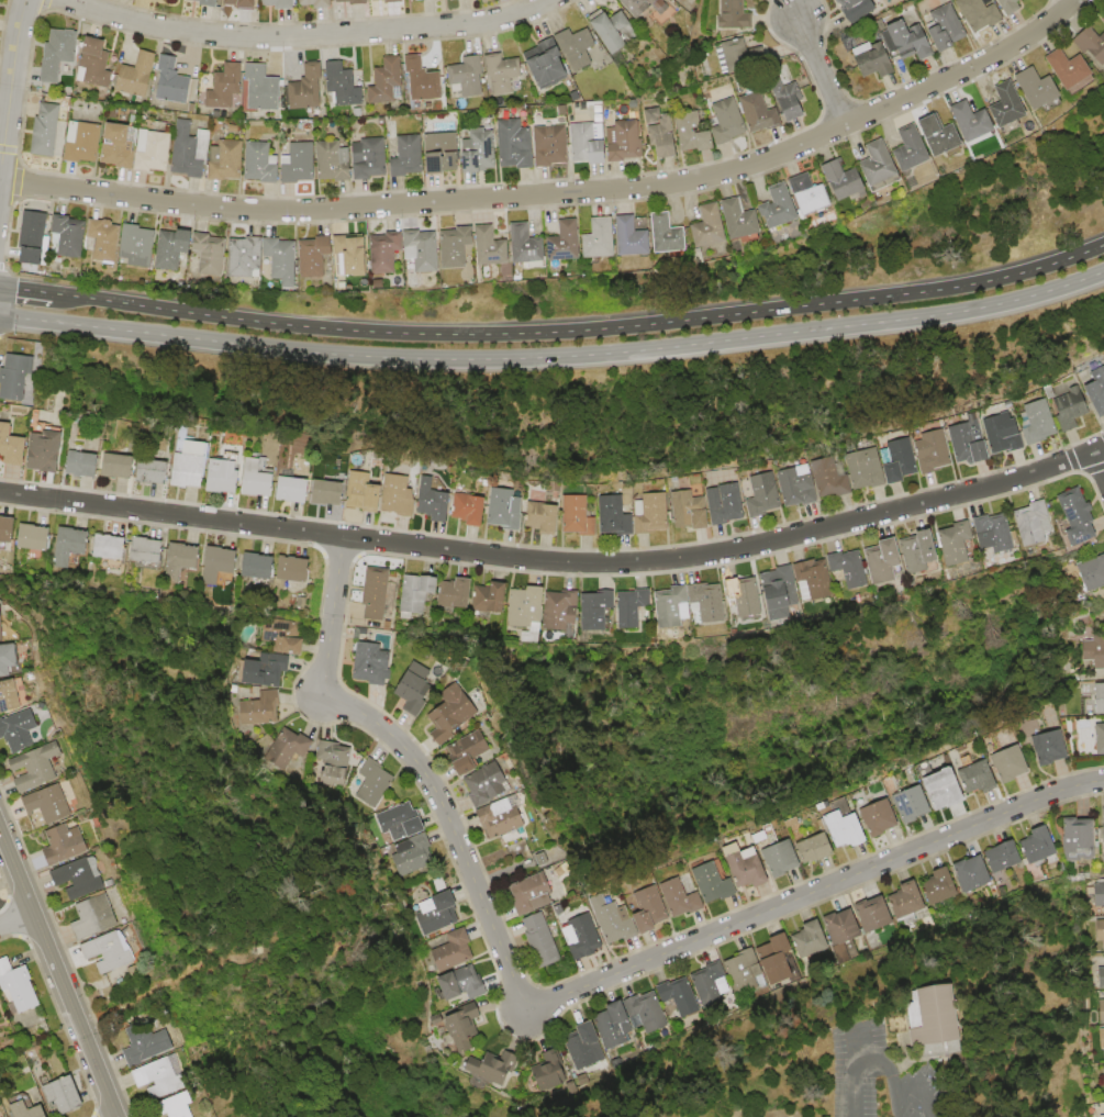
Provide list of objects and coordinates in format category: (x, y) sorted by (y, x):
building: (169, 0)
building: (375, 0)
building: (411, 0)
building: (204, 1)
building: (392, 1)
building: (353, 2)
building: (636, 3)
building: (243, 4)
building: (279, 4)
building: (317, 4)
building: (1011, 5)
building: (857, 9)
building: (980, 14)
building: (736, 15)
building: (947, 29)
building: (614, 31)
road: (311, 36)
building: (908, 40)
building: (1095, 43)
building: (576, 47)
building: (57, 53)
building: (736, 56)
building: (94, 64)
building: (874, 65)
building: (549, 68)
building: (1075, 69)
building: (501, 72)
road: (823, 72)
building: (136, 76)
building: (466, 77)
building: (422, 80)
building: (172, 81)
building: (387, 82)
building: (224, 87)
building: (341, 87)
building: (261, 88)
building: (304, 88)
building: (1042, 88)
road: (12, 94)
building: (792, 100)
building: (1013, 105)
building: (761, 113)
building: (728, 122)
building: (979, 122)
building: (688, 129)
building: (45, 130)
building: (661, 133)
building: (946, 135)
building: (624, 139)
building: (82, 142)
building: (588, 143)
building: (514, 144)
building: (549, 145)
building: (119, 146)
building: (153, 149)
building: (916, 149)
building: (479, 152)
building: (186, 153)
building: (441, 153)
building: (408, 156)
building: (369, 158)
building: (225, 159)
building: (333, 161)
building: (259, 163)
building: (298, 163)
building: (884, 166)
building: (848, 180)
road: (560, 194)
building: (815, 194)
building: (784, 208)
building: (746, 222)
building: (712, 227)
building: (670, 234)
building: (69, 235)
building: (635, 238)
building: (603, 239)
building: (32, 242)
building: (567, 242)
building: (102, 243)
building: (527, 244)
building: (137, 246)
building: (458, 247)
building: (493, 248)
building: (174, 249)
building: (424, 250)
building: (388, 252)
building: (210, 254)
building: (316, 256)
building: (352, 257)
building: (247, 258)
building: (281, 261)
road: (25, 289)
road: (580, 329)
road: (156, 334)
road: (712, 340)
building: (18, 378)
building: (1095, 392)
building: (1070, 409)
building: (1037, 422)
building: (1003, 433)
building: (969, 444)
building: (12, 447)
building: (933, 450)
building: (46, 453)
building: (900, 460)
road: (1100, 460)
building: (85, 466)
building: (119, 467)
building: (191, 467)
building: (867, 468)
building: (153, 472)
building: (224, 477)
building: (829, 478)
building: (258, 479)
building: (798, 485)
building: (293, 490)
building: (364, 492)
building: (328, 494)
building: (763, 494)
building: (398, 495)
building: (434, 502)
building: (725, 504)
building: (469, 510)
building: (506, 510)
building: (689, 511)
building: (651, 513)
building: (578, 515)
building: (614, 515)
building: (1079, 515)
building: (543, 518)
building: (1037, 522)
building: (7, 532)
building: (33, 537)
building: (999, 538)
building: (959, 543)
building: (69, 546)
building: (110, 547)
building: (146, 549)
building: (923, 552)
building: (181, 561)
building: (890, 561)
road: (557, 562)
building: (258, 565)
building: (220, 566)
building: (294, 568)
building: (850, 570)
building: (1094, 571)
building: (815, 579)
building: (376, 592)
building: (417, 592)
building: (459, 593)
building: (784, 593)
building: (497, 597)
building: (745, 600)
building: (706, 602)
building: (527, 606)
building: (673, 606)
building: (596, 608)
building: (562, 611)
building: (636, 611)
building: (2, 624)
building: (282, 634)
building: (1095, 649)
building: (10, 658)
building: (372, 662)
building: (264, 669)
building: (414, 691)
building: (13, 694)
building: (1100, 697)
building: (257, 708)
building: (453, 713)
building: (20, 729)
building: (1100, 737)
building: (1050, 747)
building: (286, 749)
building: (470, 751)
building: (1012, 763)
building: (40, 766)
building: (331, 767)
building: (980, 777)
building: (372, 783)
building: (489, 783)
building: (947, 788)
building: (51, 803)
building: (914, 803)
building: (511, 814)
building: (882, 818)
building: (400, 822)
building: (1102, 824)
building: (848, 828)
building: (531, 839)
building: (1080, 840)
building: (68, 844)
building: (1040, 845)
building: (818, 847)
building: (779, 851)
building: (411, 856)
building: (546, 856)
building: (1006, 856)
building: (748, 865)
building: (975, 875)
building: (83, 876)
building: (715, 882)
building: (941, 886)
building: (540, 889)
building: (1099, 894)
building: (683, 897)
building: (904, 898)
building: (651, 908)
building: (103, 912)
building: (435, 914)
building: (876, 914)
building: (615, 918)
road: (18, 920)
building: (1100, 930)
building: (580, 935)
building: (845, 935)
building: (807, 939)
building: (540, 941)
building: (113, 949)
building: (454, 950)
building: (782, 959)
road: (59, 971)
building: (747, 972)
building: (1102, 976)
building: (462, 984)
building: (16, 986)
building: (705, 990)
building: (677, 994)
road: (559, 997)
building: (1102, 1010)
building: (947, 1014)
building: (627, 1017)
building: (461, 1030)
building: (901, 1038)
building: (150, 1042)
building: (1103, 1042)
building: (588, 1043)
building: (491, 1068)
building: (546, 1071)
road: (900, 1072)
road: (860, 1073)
building: (161, 1077)
building: (1103, 1083)
road: (934, 1086)
building: (64, 1094)
building: (176, 1106)
building: (29, 1110)

